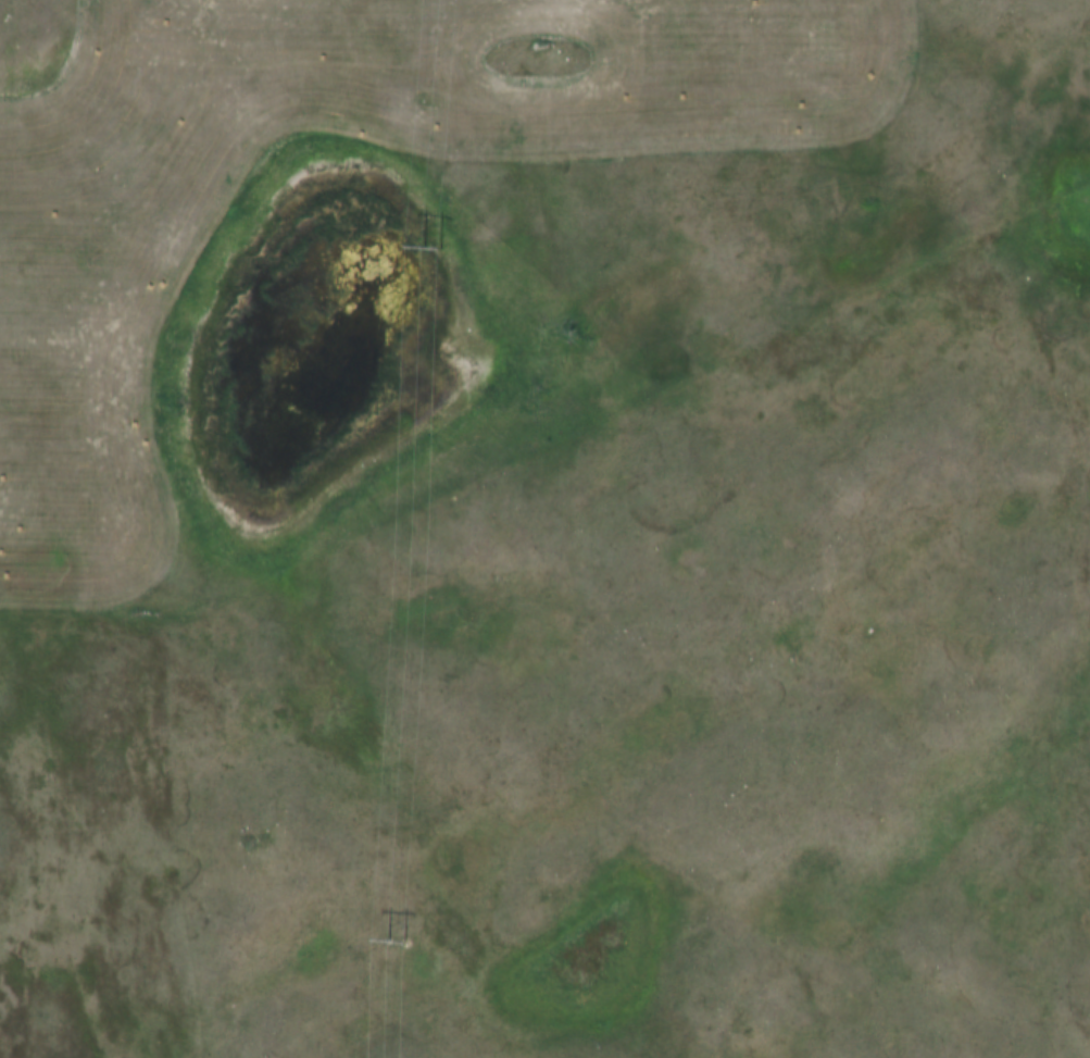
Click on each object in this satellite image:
power tower: (431, 248)
power tower: (399, 943)

